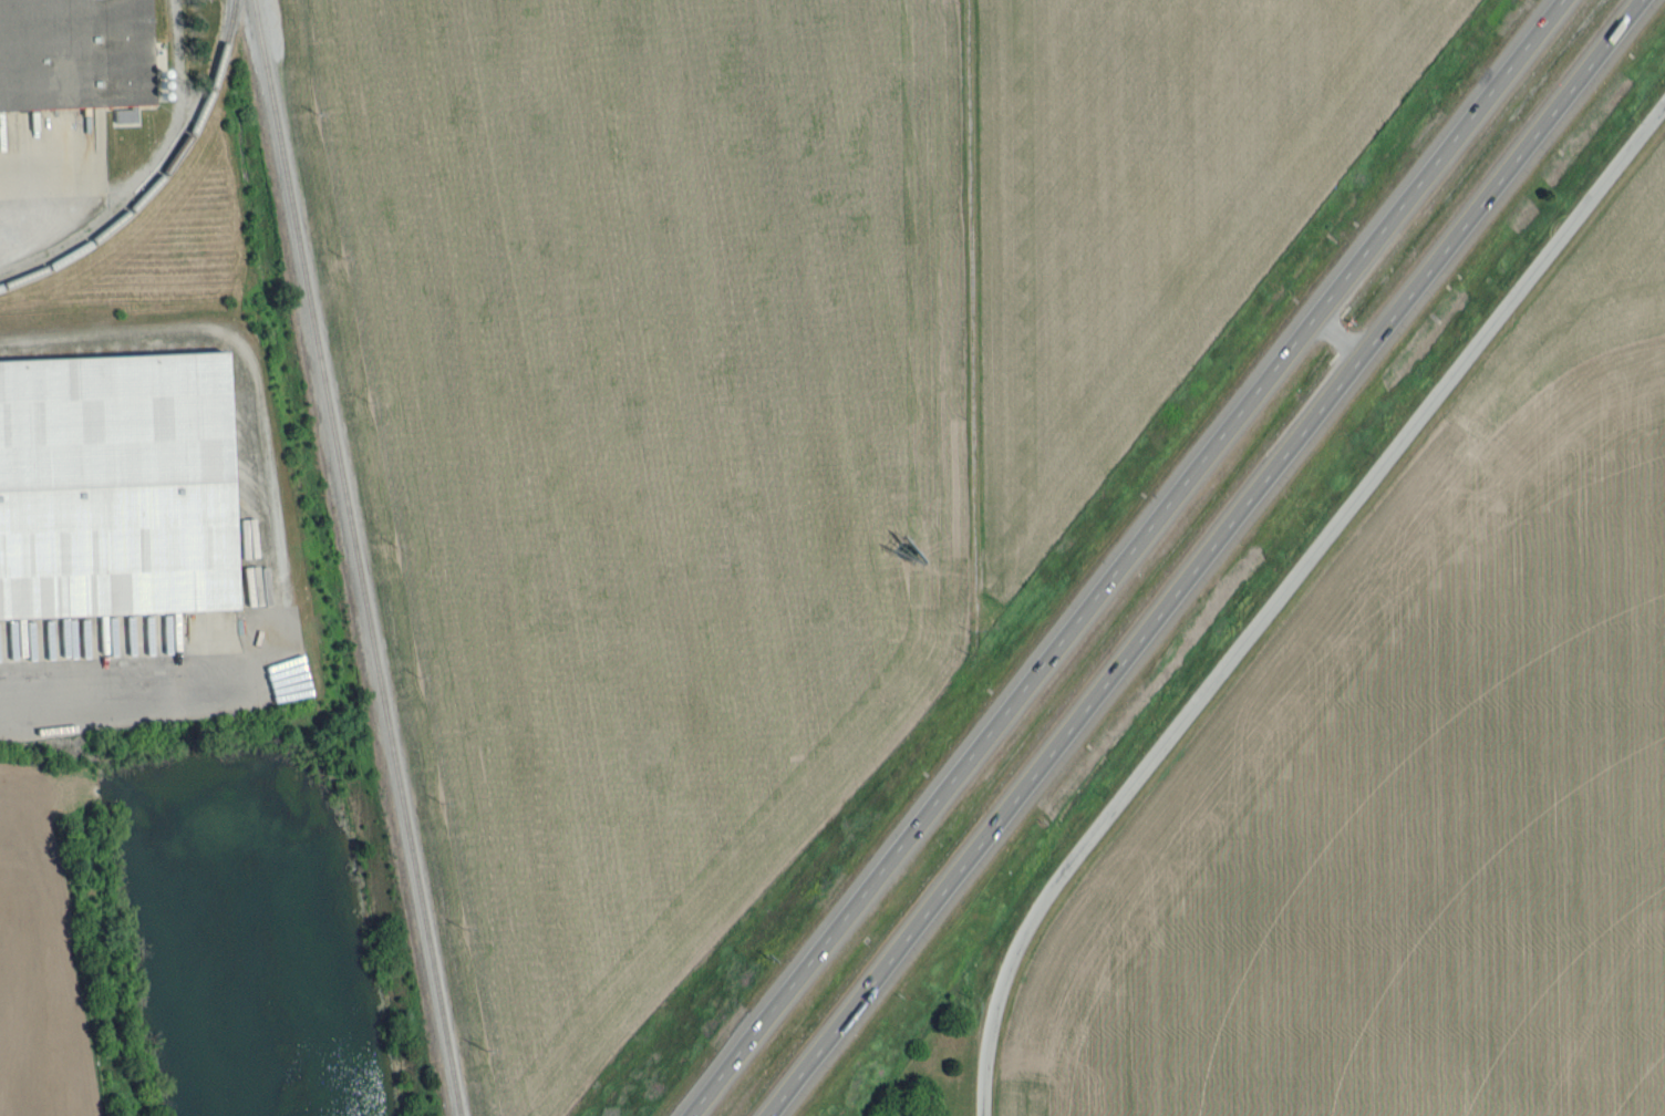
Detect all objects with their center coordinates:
building: (73, 51)
railway: (162, 180)
road: (974, 316)
road: (1337, 335)
building: (114, 485)
road: (273, 507)
railway: (355, 558)
road: (1124, 558)
road: (1202, 558)
road: (1284, 592)

